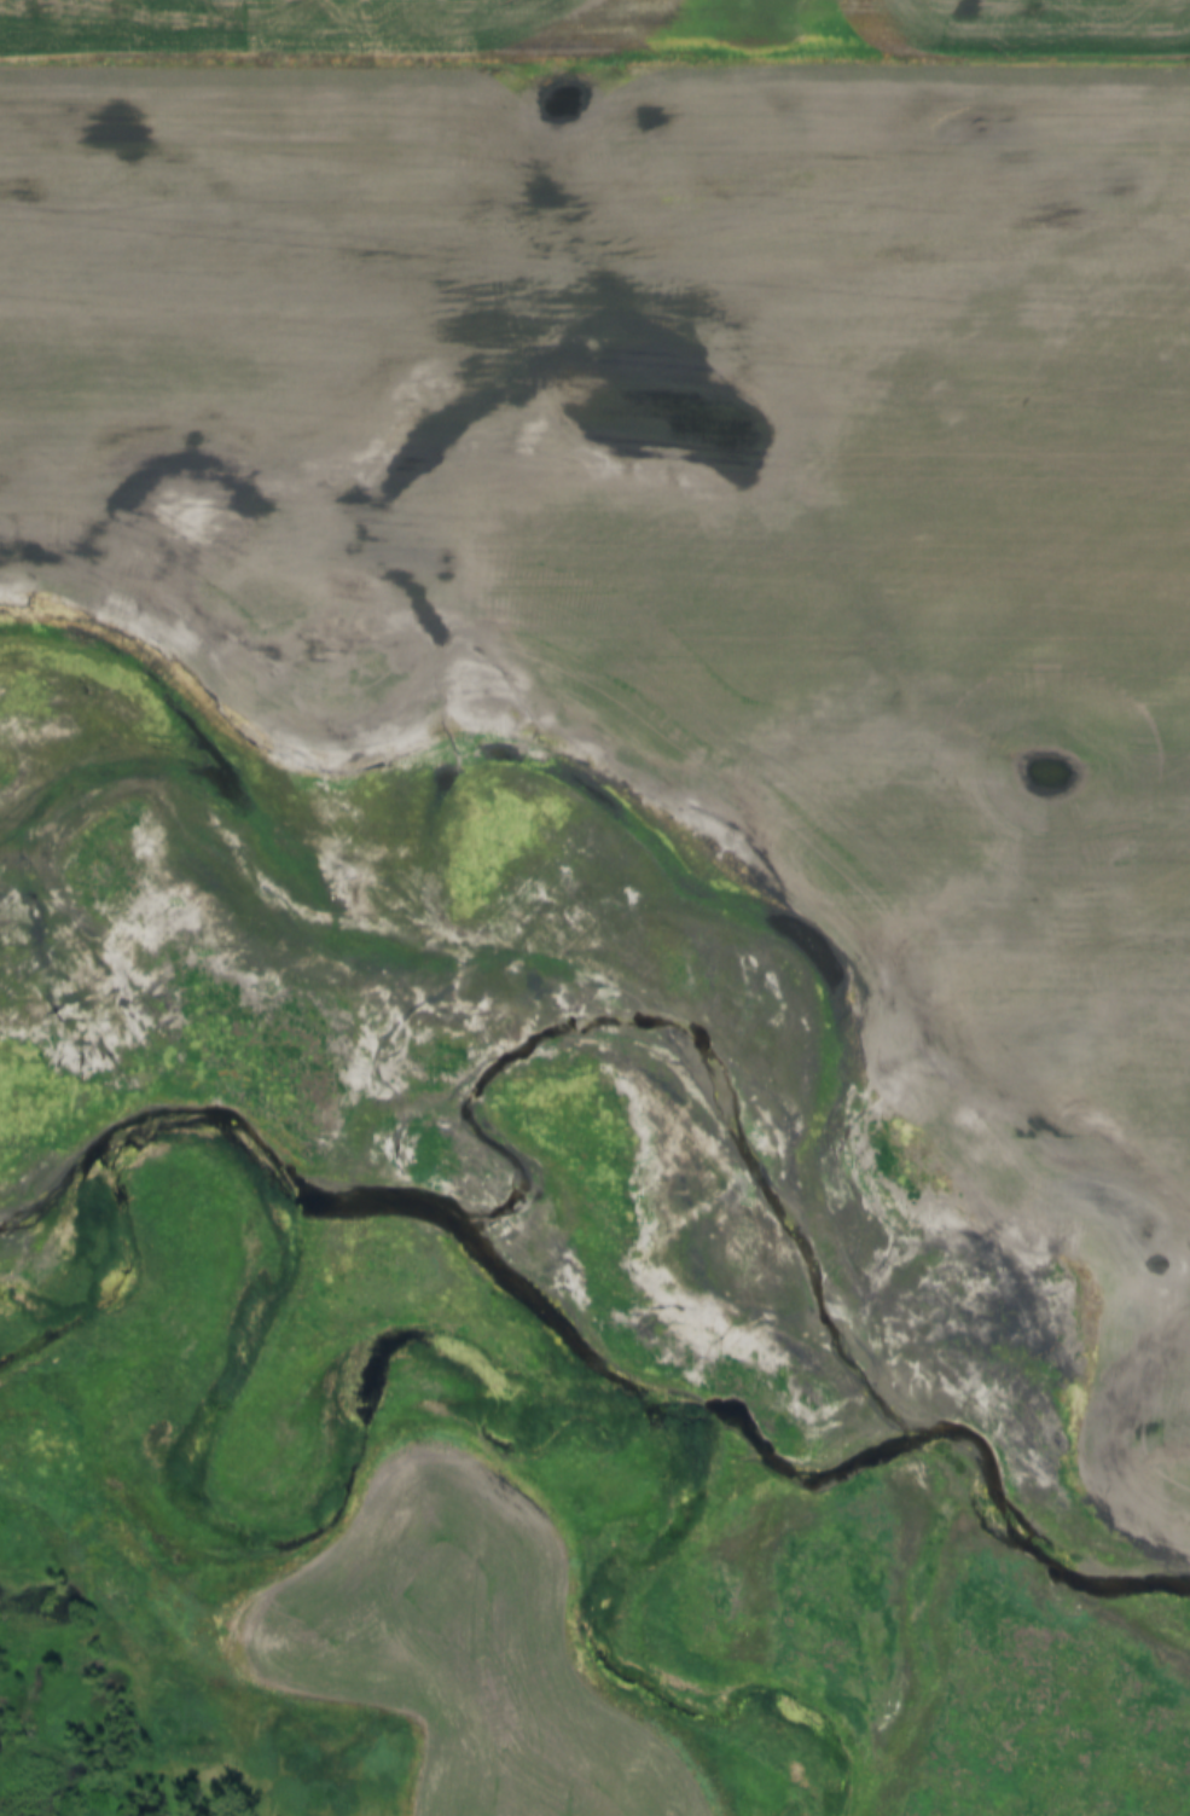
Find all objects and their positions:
road: (594, 56)

